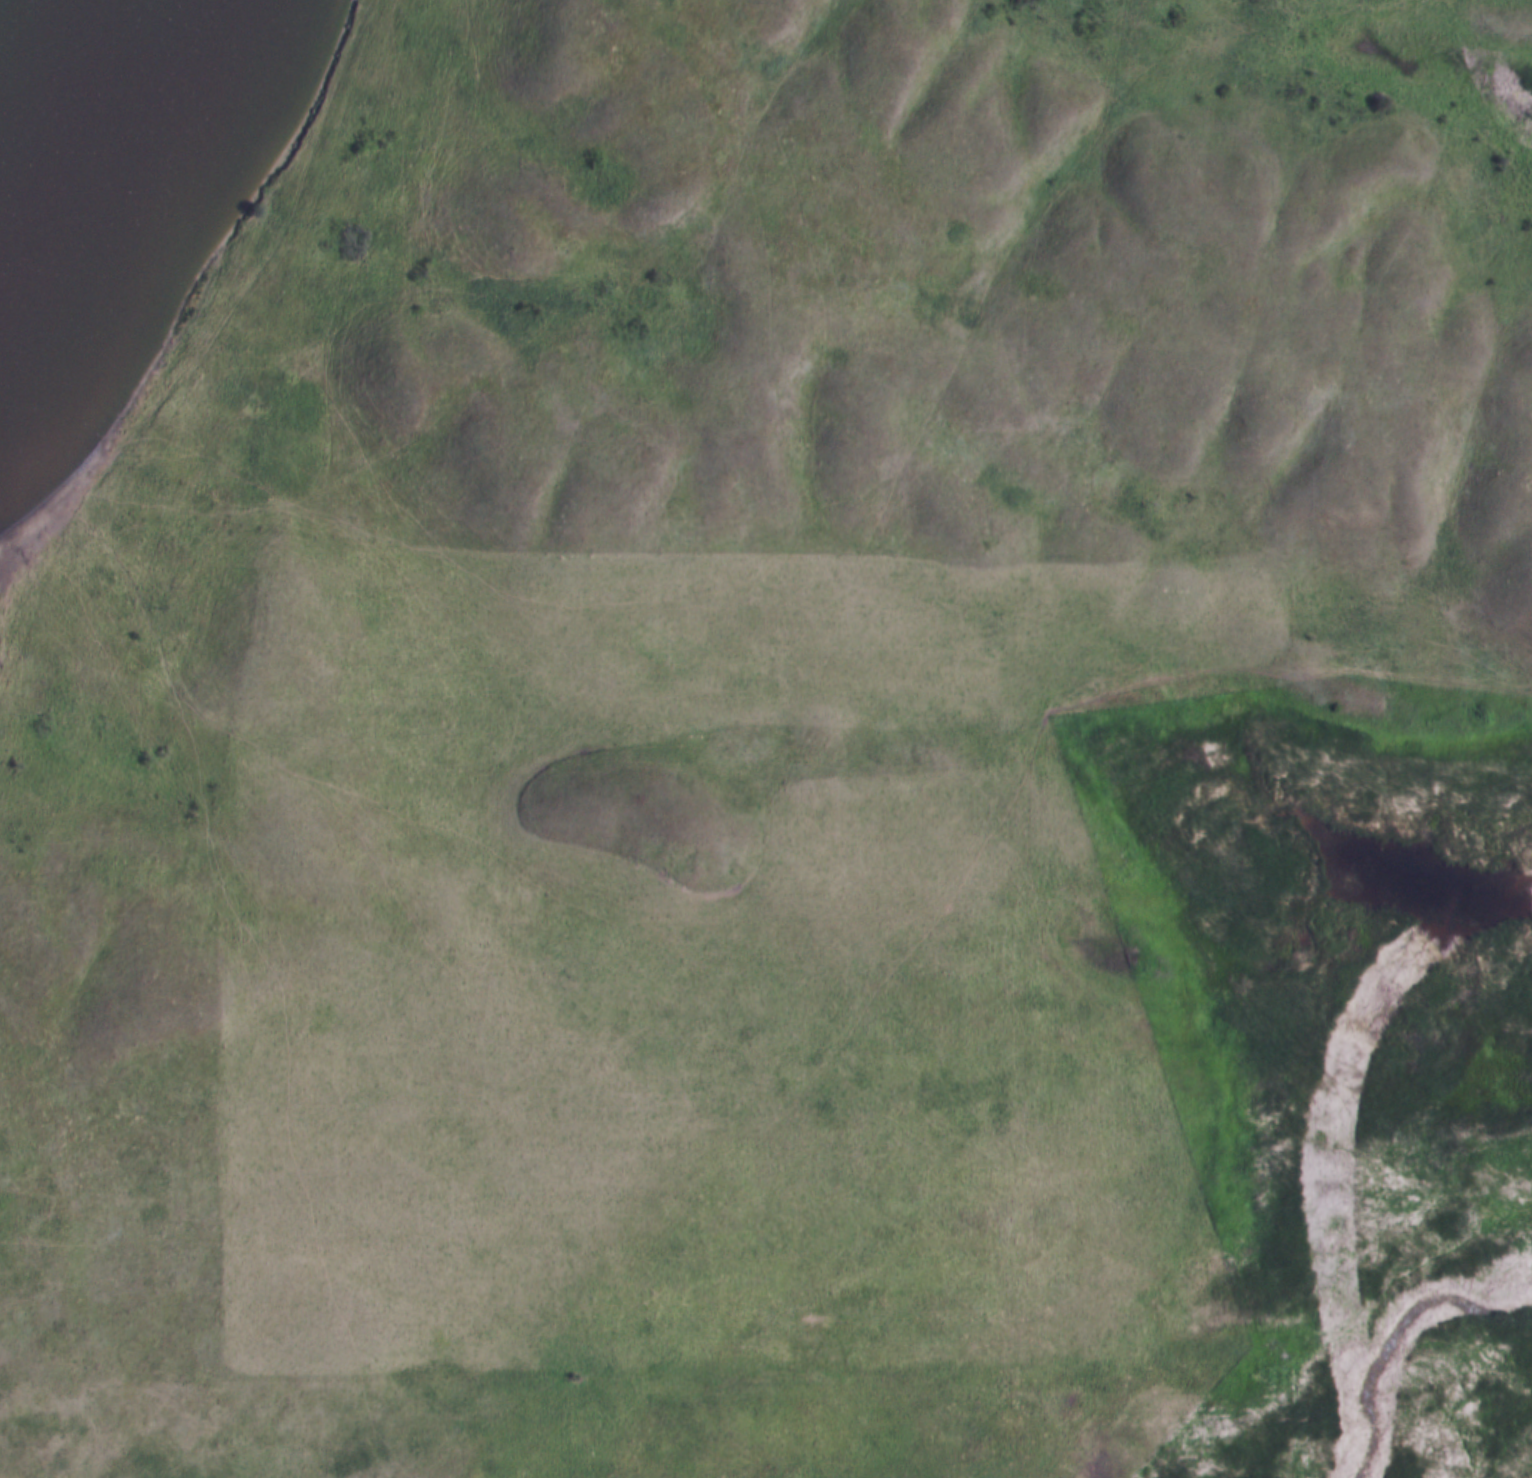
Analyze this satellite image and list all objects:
river: (1409, 1347)

